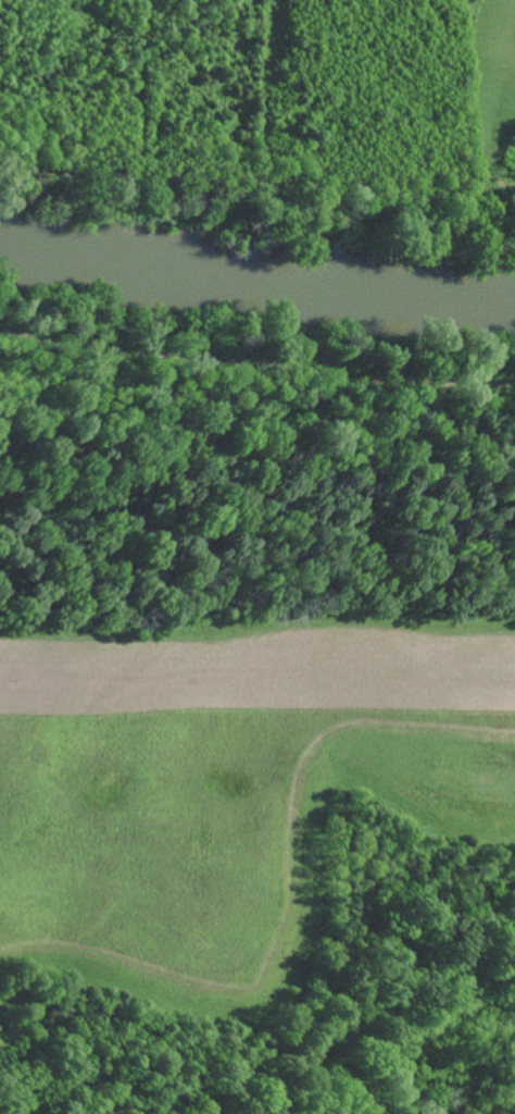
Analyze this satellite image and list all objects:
river: (255, 282)
road: (257, 358)

